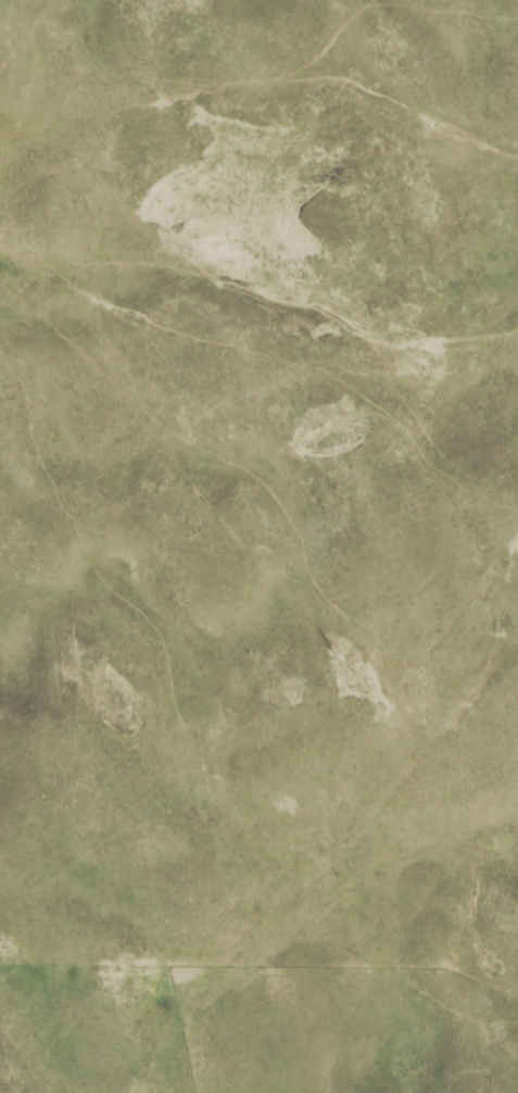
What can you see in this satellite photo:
power tower: (334, 655)

